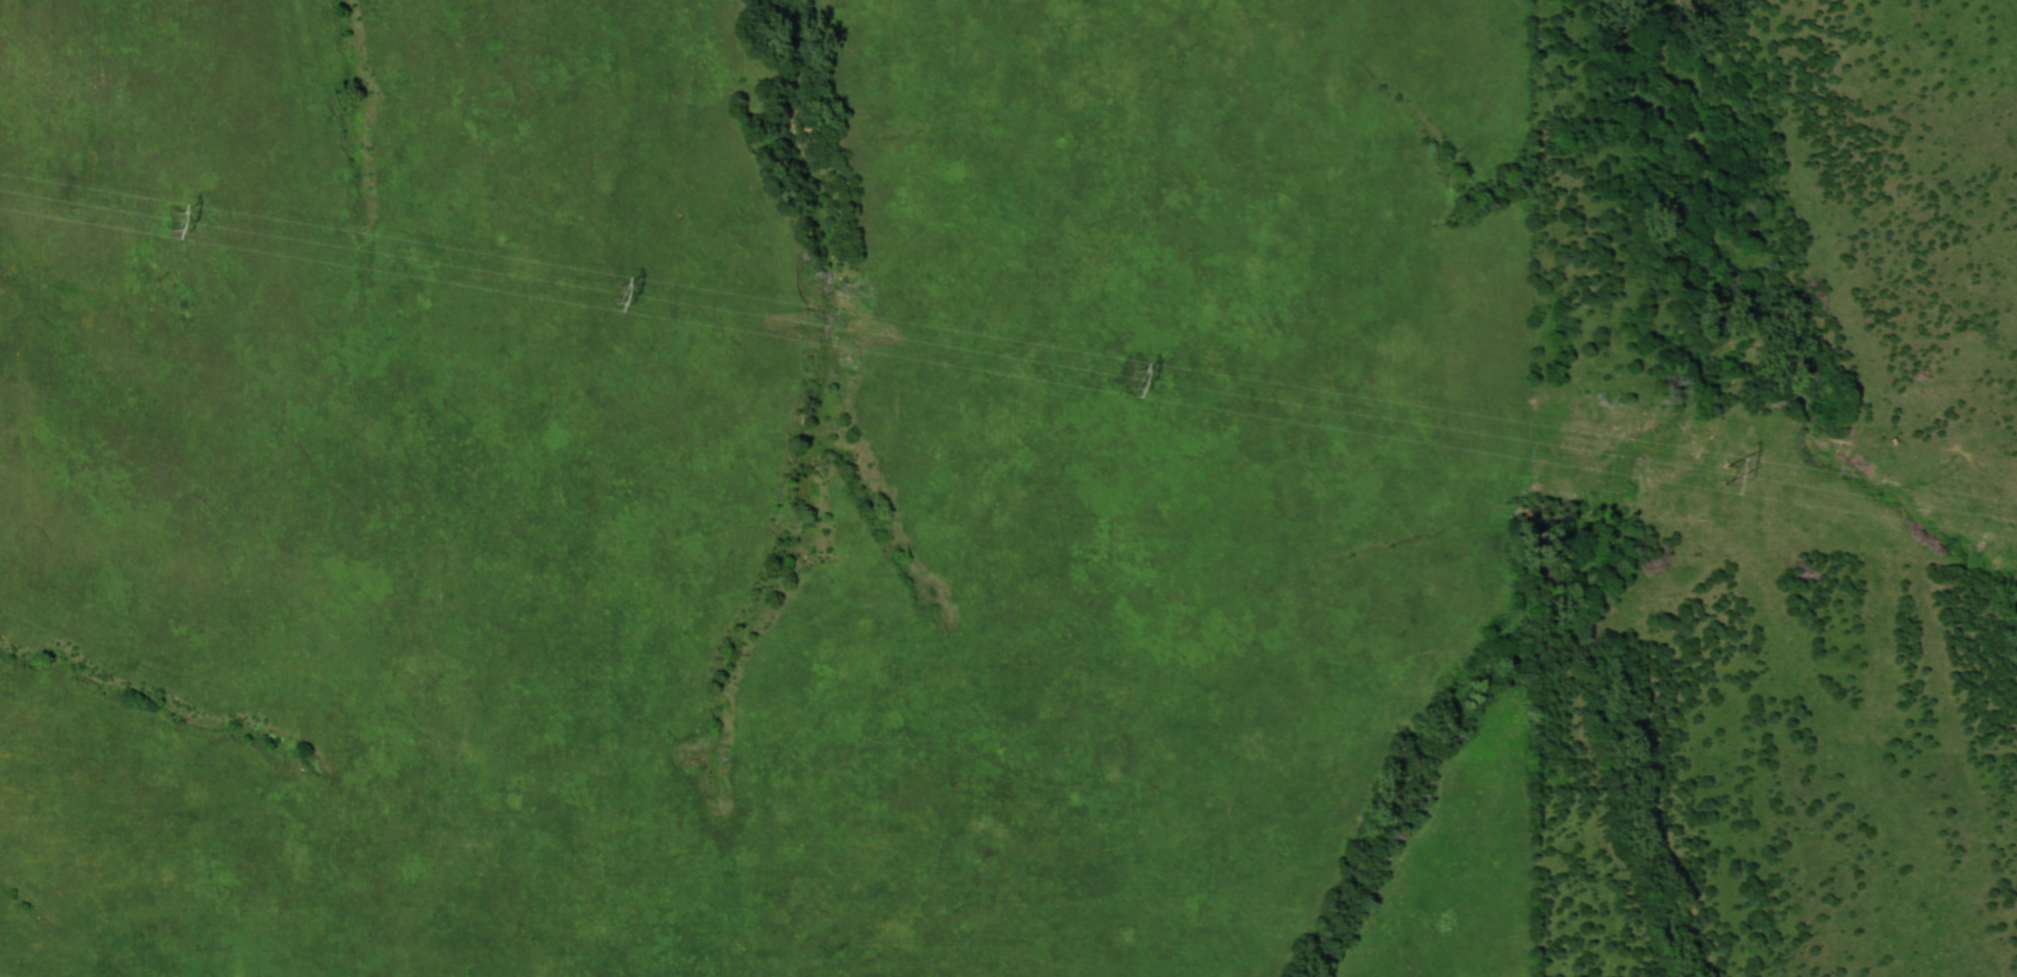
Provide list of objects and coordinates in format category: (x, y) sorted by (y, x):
power tower: (174, 221)
power tower: (616, 291)
power tower: (1134, 377)
power tower: (1718, 473)

